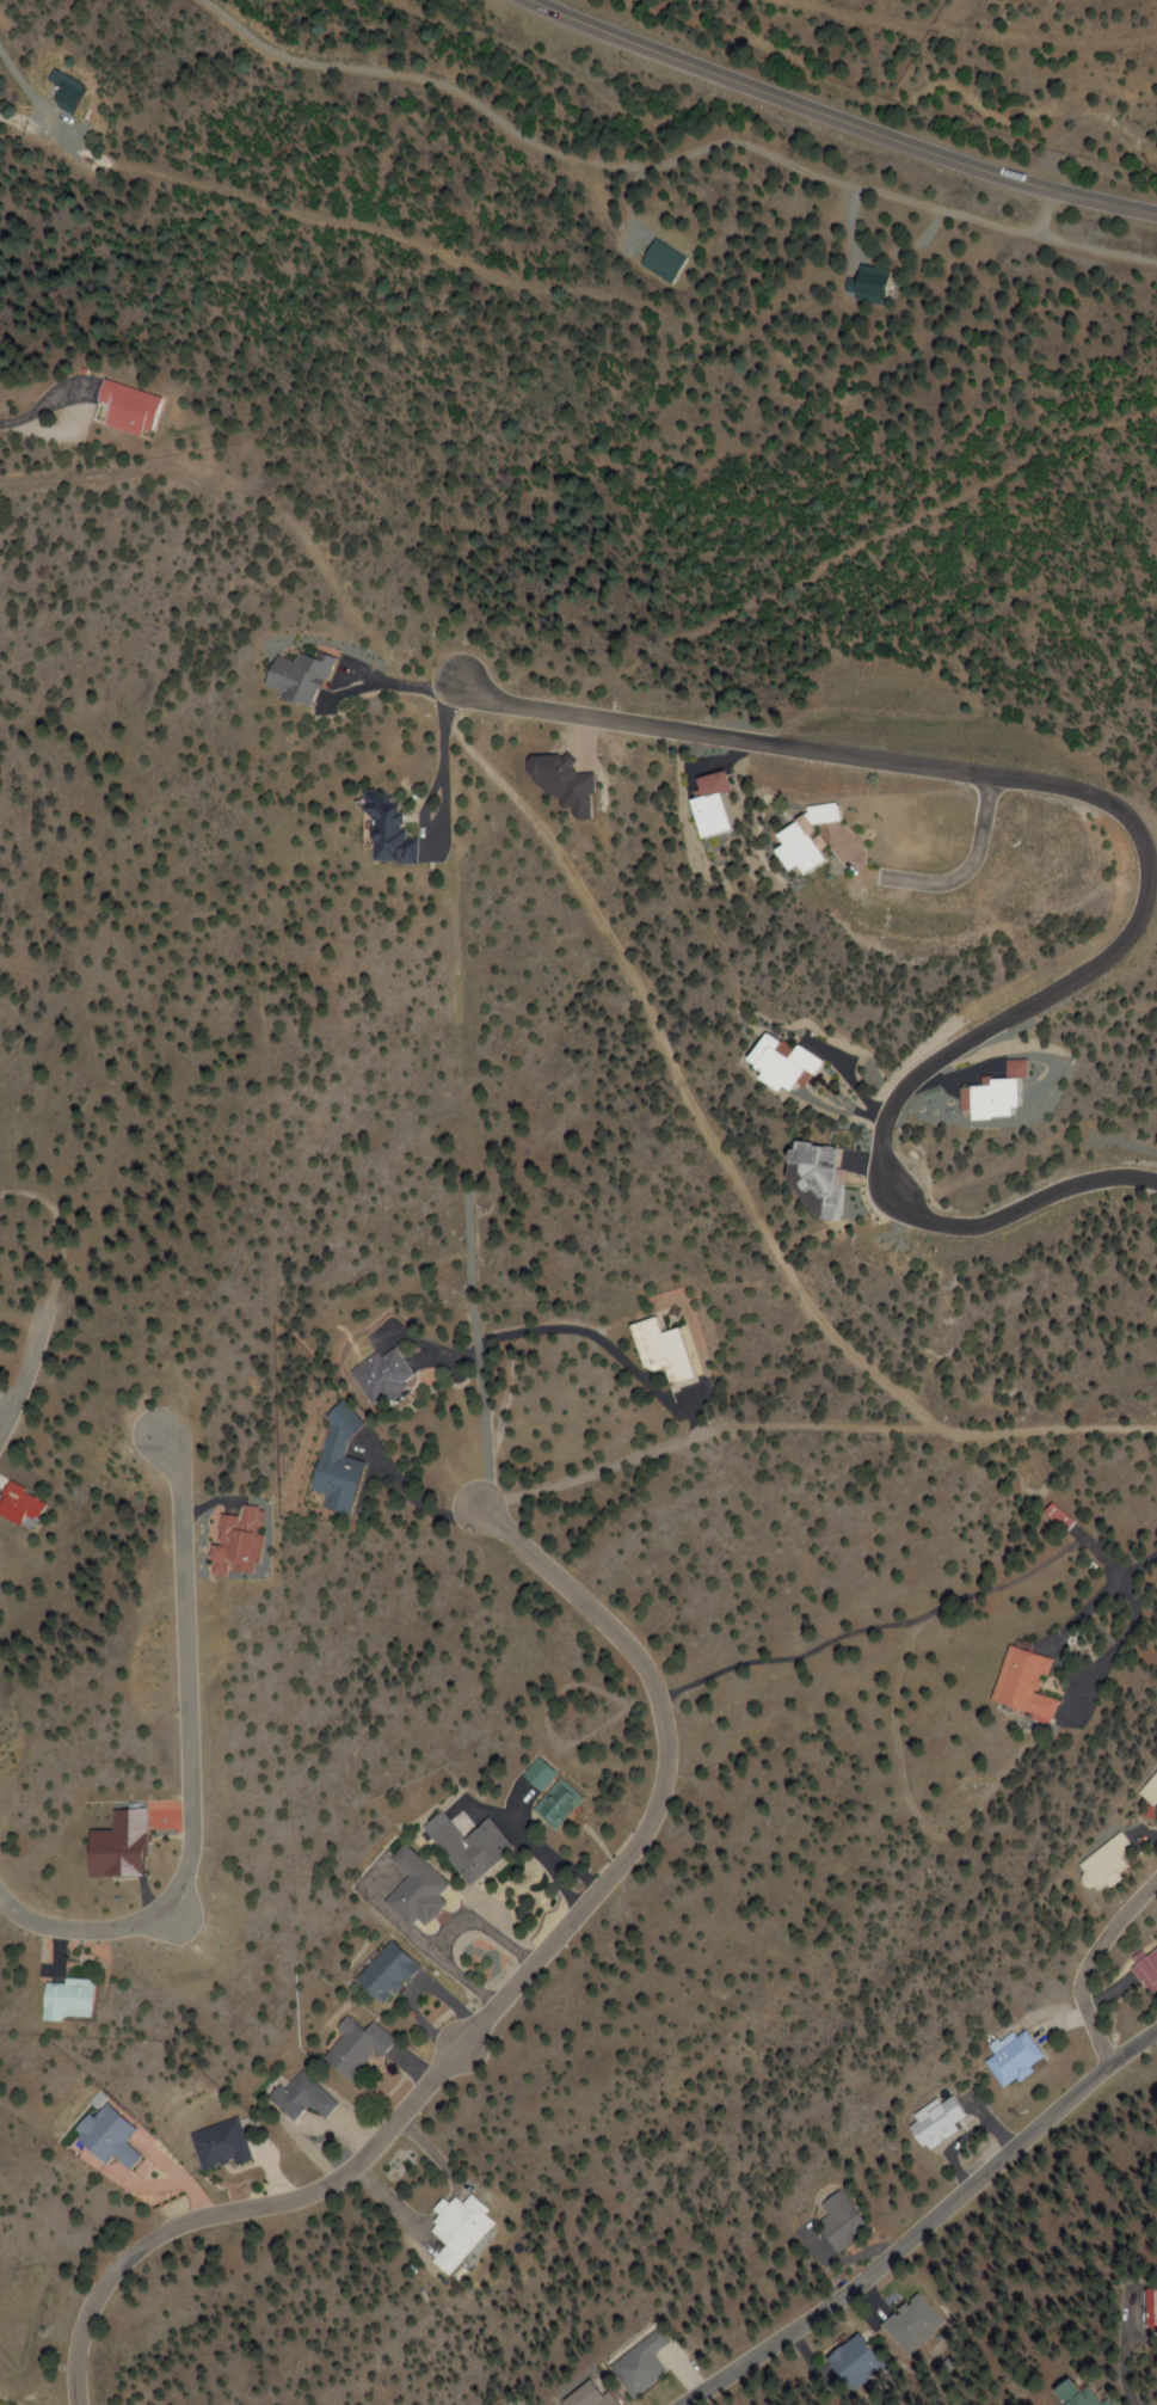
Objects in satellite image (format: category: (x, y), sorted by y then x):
road: (987, 29)
road: (832, 119)
building: (128, 407)
building: (294, 680)
building: (827, 816)
building: (383, 834)
road: (1144, 875)
building: (775, 1063)
road: (54, 1226)
building: (661, 1352)
road: (26, 1364)
building: (377, 1376)
building: (333, 1465)
building: (1053, 1517)
building: (1022, 1685)
road: (187, 1763)
building: (1151, 1789)
building: (554, 1804)
building: (467, 1846)
building: (1104, 1863)
building: (417, 1890)
road: (1091, 1965)
building: (1147, 1973)
building: (388, 1974)
building: (74, 1999)
road: (500, 2004)
building: (356, 2048)
building: (1014, 2060)
building: (301, 2098)
building: (934, 2123)
building: (111, 2137)
building: (219, 2146)
building: (838, 2222)
road: (925, 2227)
building: (457, 2231)
building: (1150, 2307)
building: (915, 2325)
building: (854, 2364)
building: (639, 2366)
building: (1071, 2395)
building: (587, 2397)

